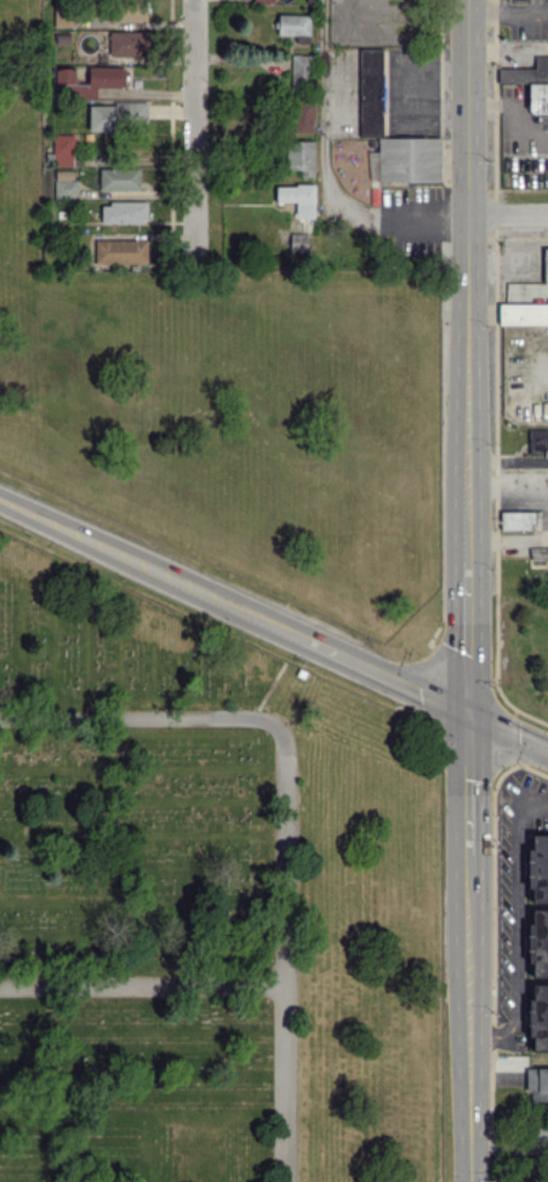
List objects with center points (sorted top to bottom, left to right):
building: (262, 0)
road: (533, 5)
road: (502, 6)
building: (127, 11)
road: (508, 11)
road: (342, 12)
building: (293, 25)
building: (127, 42)
building: (299, 69)
road: (321, 78)
building: (90, 80)
building: (531, 82)
building: (370, 92)
building: (115, 114)
building: (301, 115)
road: (194, 130)
building: (64, 150)
building: (301, 156)
building: (409, 159)
building: (119, 178)
building: (64, 184)
building: (297, 198)
building: (122, 211)
road: (378, 212)
road: (508, 216)
building: (120, 251)
building: (544, 264)
road: (468, 280)
building: (527, 287)
building: (523, 313)
road: (508, 481)
building: (516, 519)
road: (508, 537)
building: (538, 553)
road: (273, 623)
road: (468, 638)
traffic signals: (468, 715)
road: (468, 784)
road: (536, 804)
road: (286, 815)
building: (537, 867)
park: (206, 897)
road: (518, 937)
building: (538, 942)
road: (143, 987)
building: (538, 1016)
road: (470, 1017)
building: (536, 1085)
building: (537, 1135)

